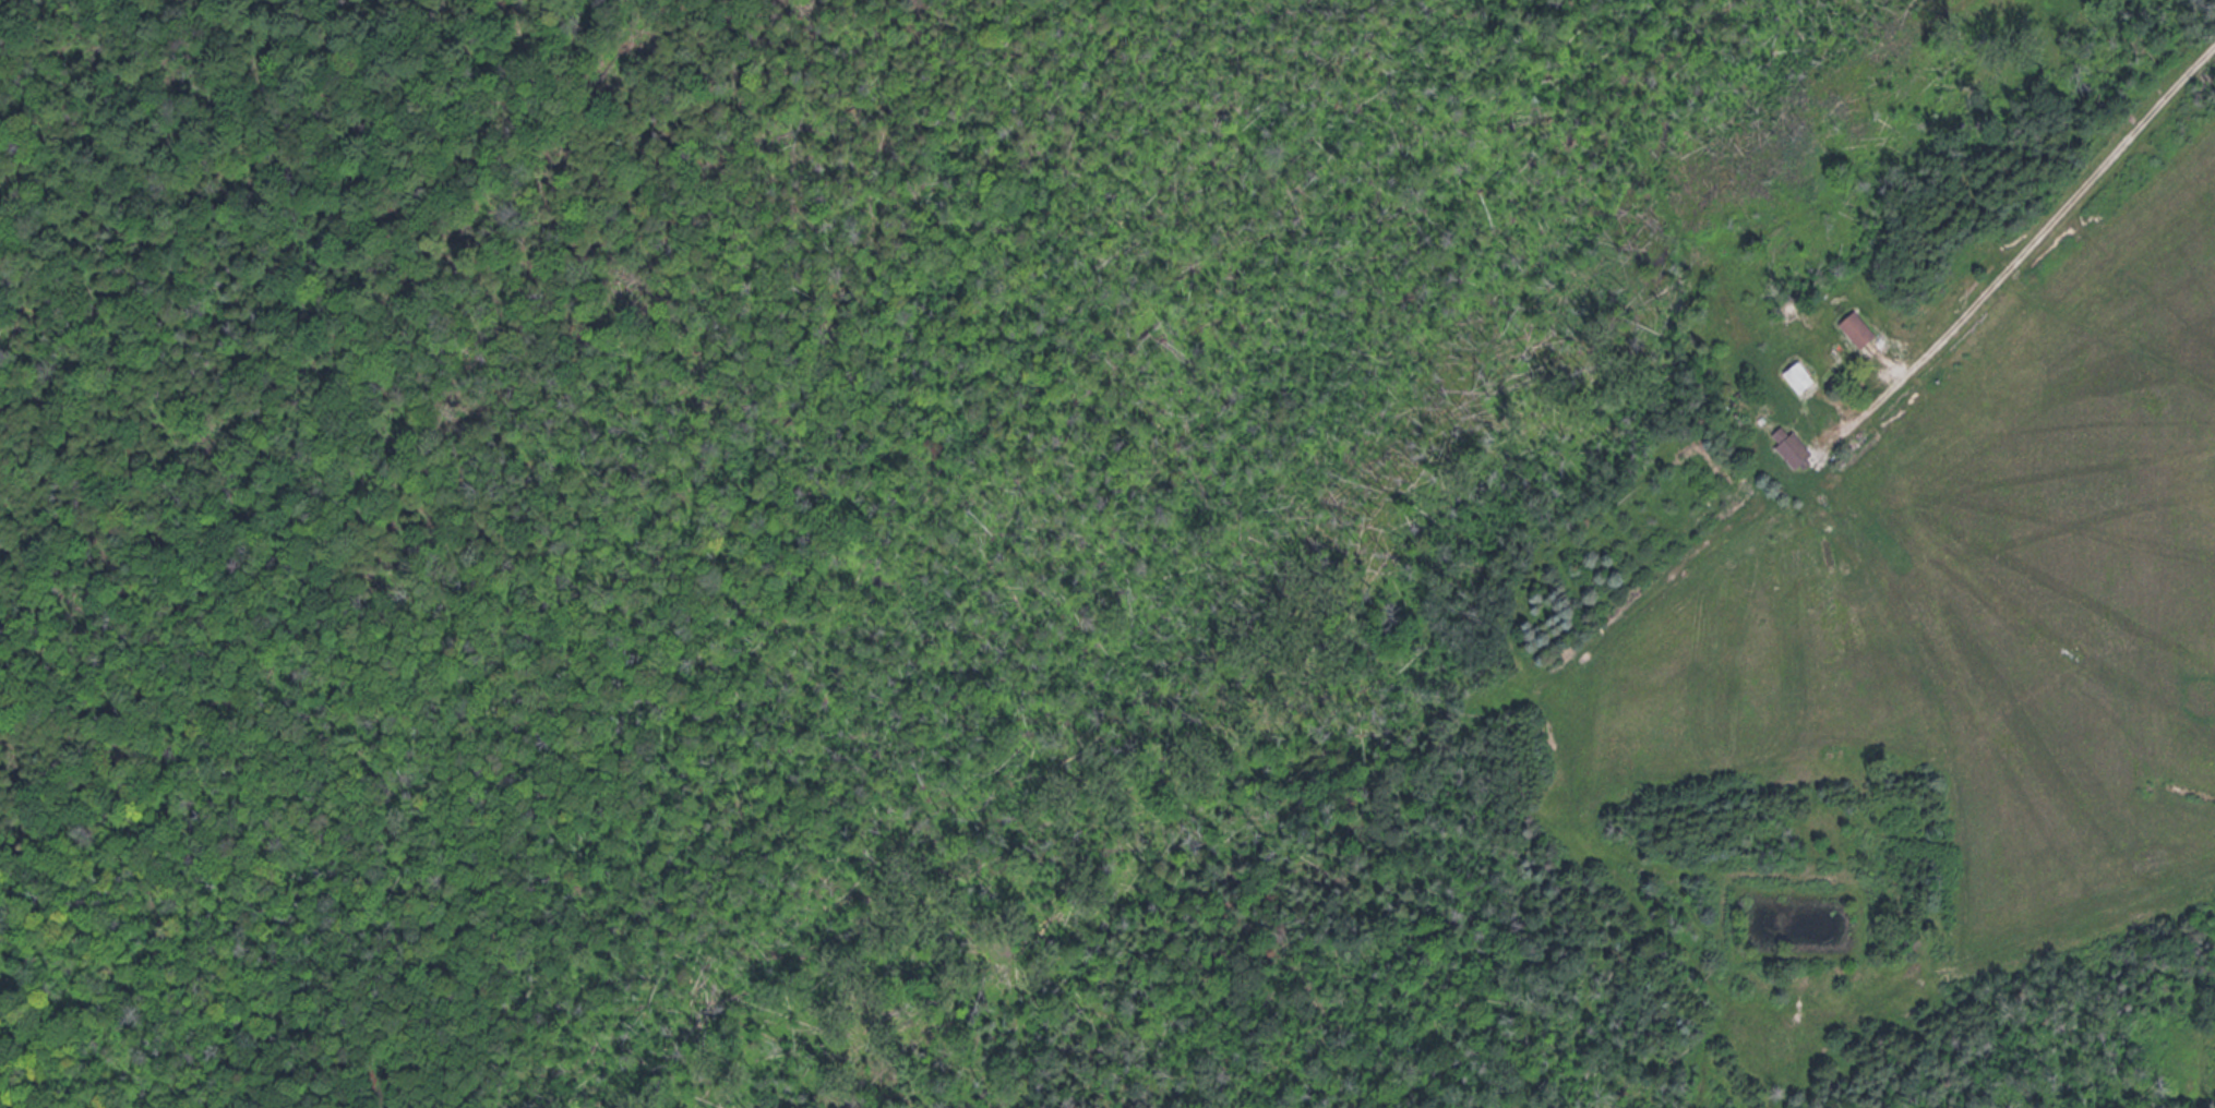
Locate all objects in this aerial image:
road: (2023, 252)
building: (1855, 327)
building: (1796, 374)
building: (1788, 445)

